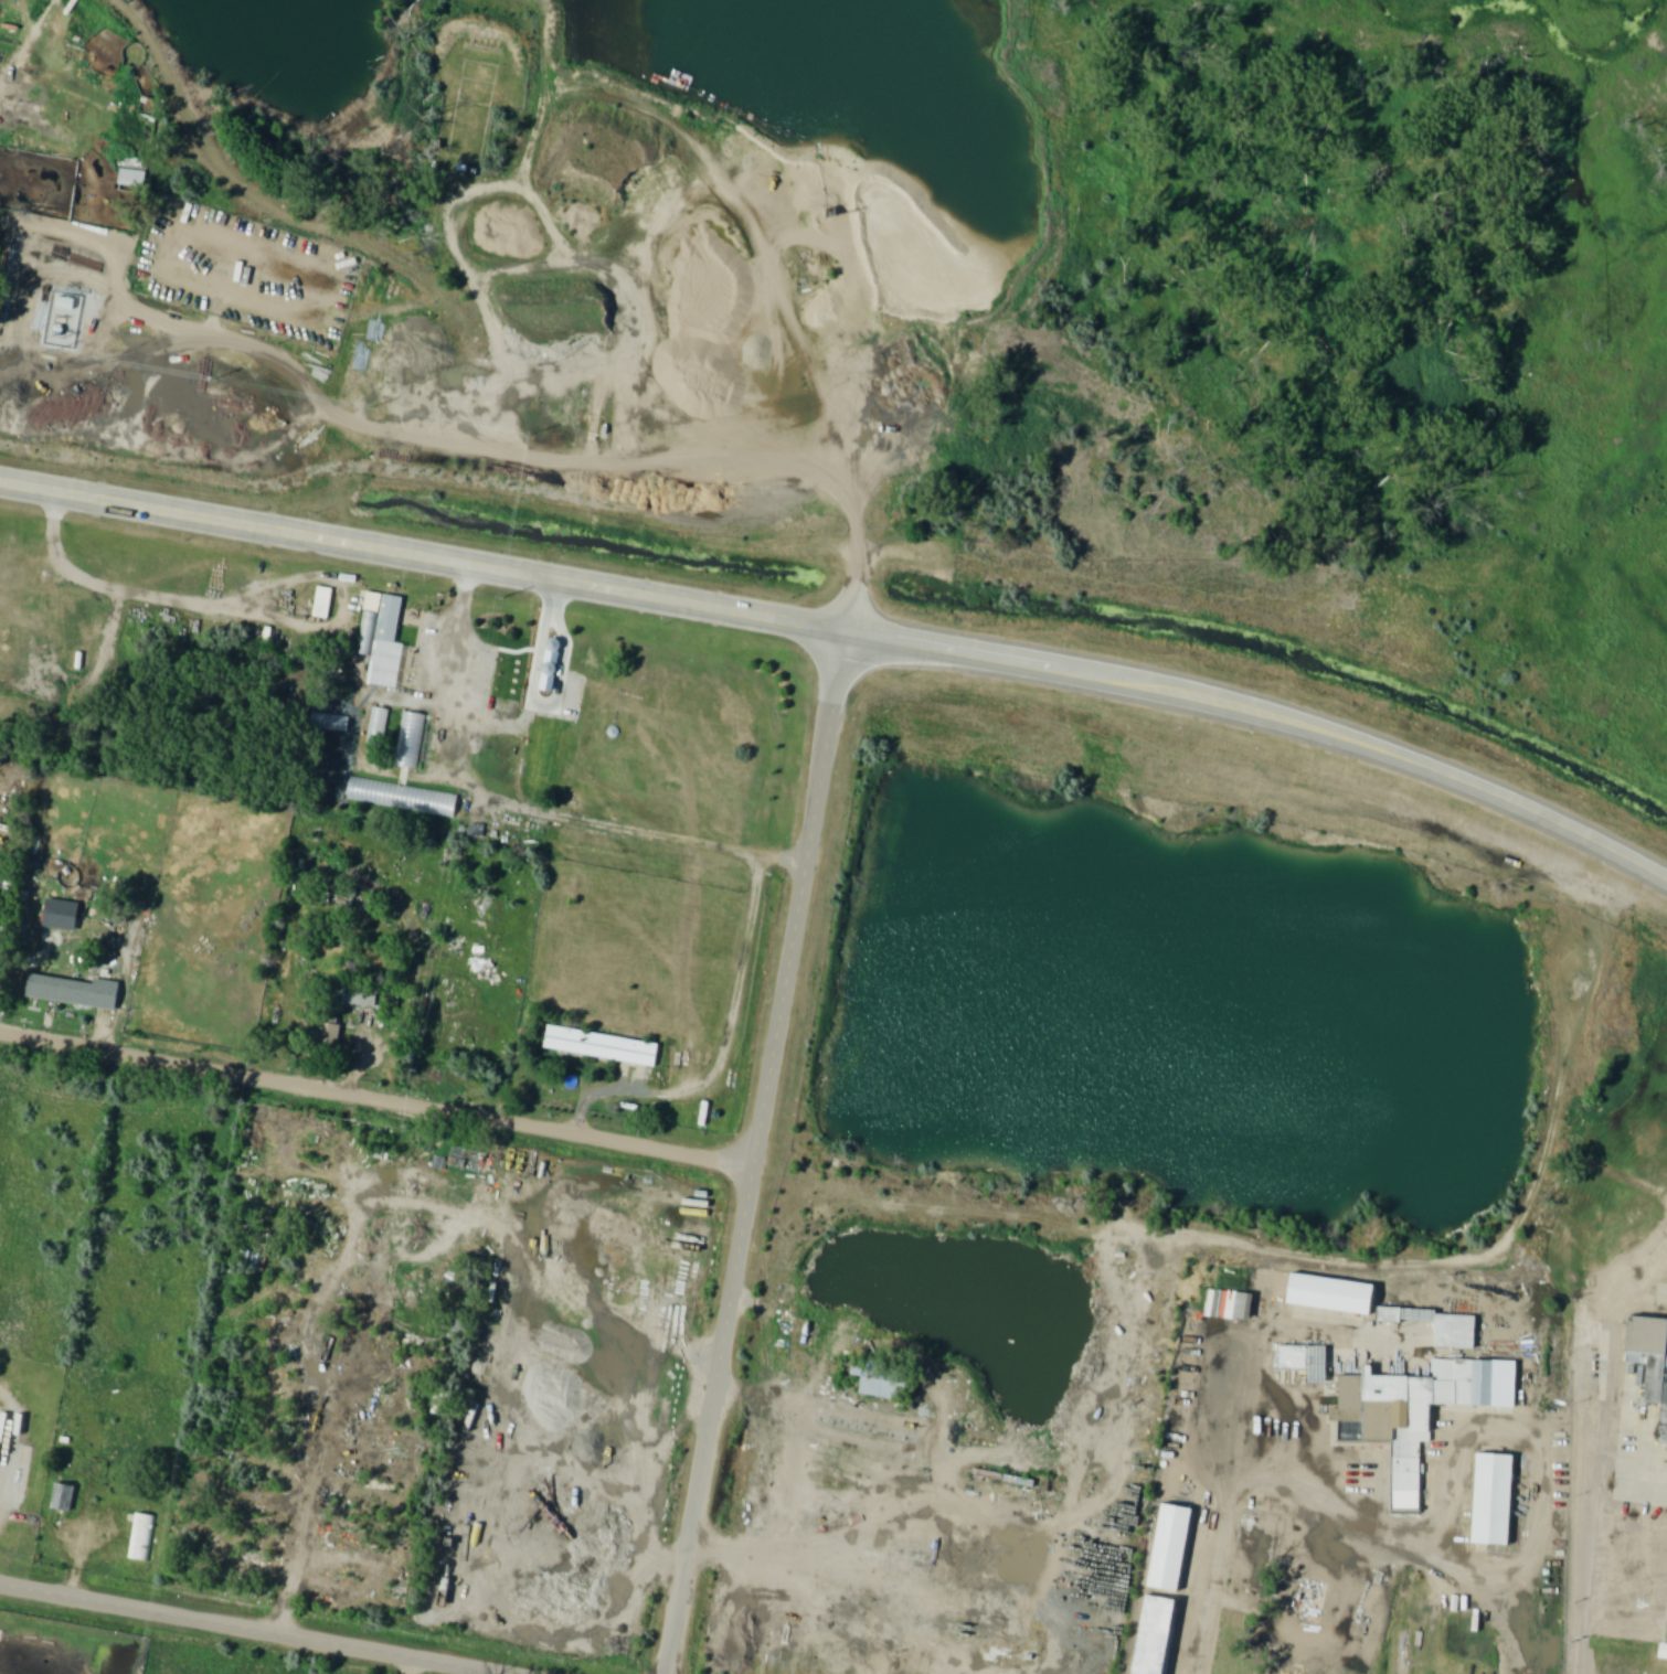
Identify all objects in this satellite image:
building: (135, 180)
road: (608, 286)
building: (323, 603)
road: (730, 610)
building: (380, 621)
building: (412, 658)
building: (387, 660)
building: (331, 724)
building: (410, 740)
road: (1561, 822)
building: (1, 950)
building: (64, 988)
building: (360, 995)
building: (439, 999)
building: (331, 1035)
building: (434, 1044)
building: (603, 1046)
building: (443, 1067)
road: (583, 1137)
road: (758, 1152)
road: (1501, 1243)
building: (677, 1252)
building: (1331, 1294)
building: (657, 1303)
building: (1232, 1307)
building: (1457, 1330)
building: (1650, 1356)
building: (1307, 1362)
building: (882, 1380)
building: (1490, 1380)
road: (783, 1388)
road: (941, 1416)
building: (0, 1431)
road: (1599, 1449)
road: (1149, 1460)
building: (64, 1497)
building: (1493, 1499)
road: (1210, 1503)
building: (141, 1537)
building: (1170, 1547)
road: (254, 1630)
building: (1663, 1651)

